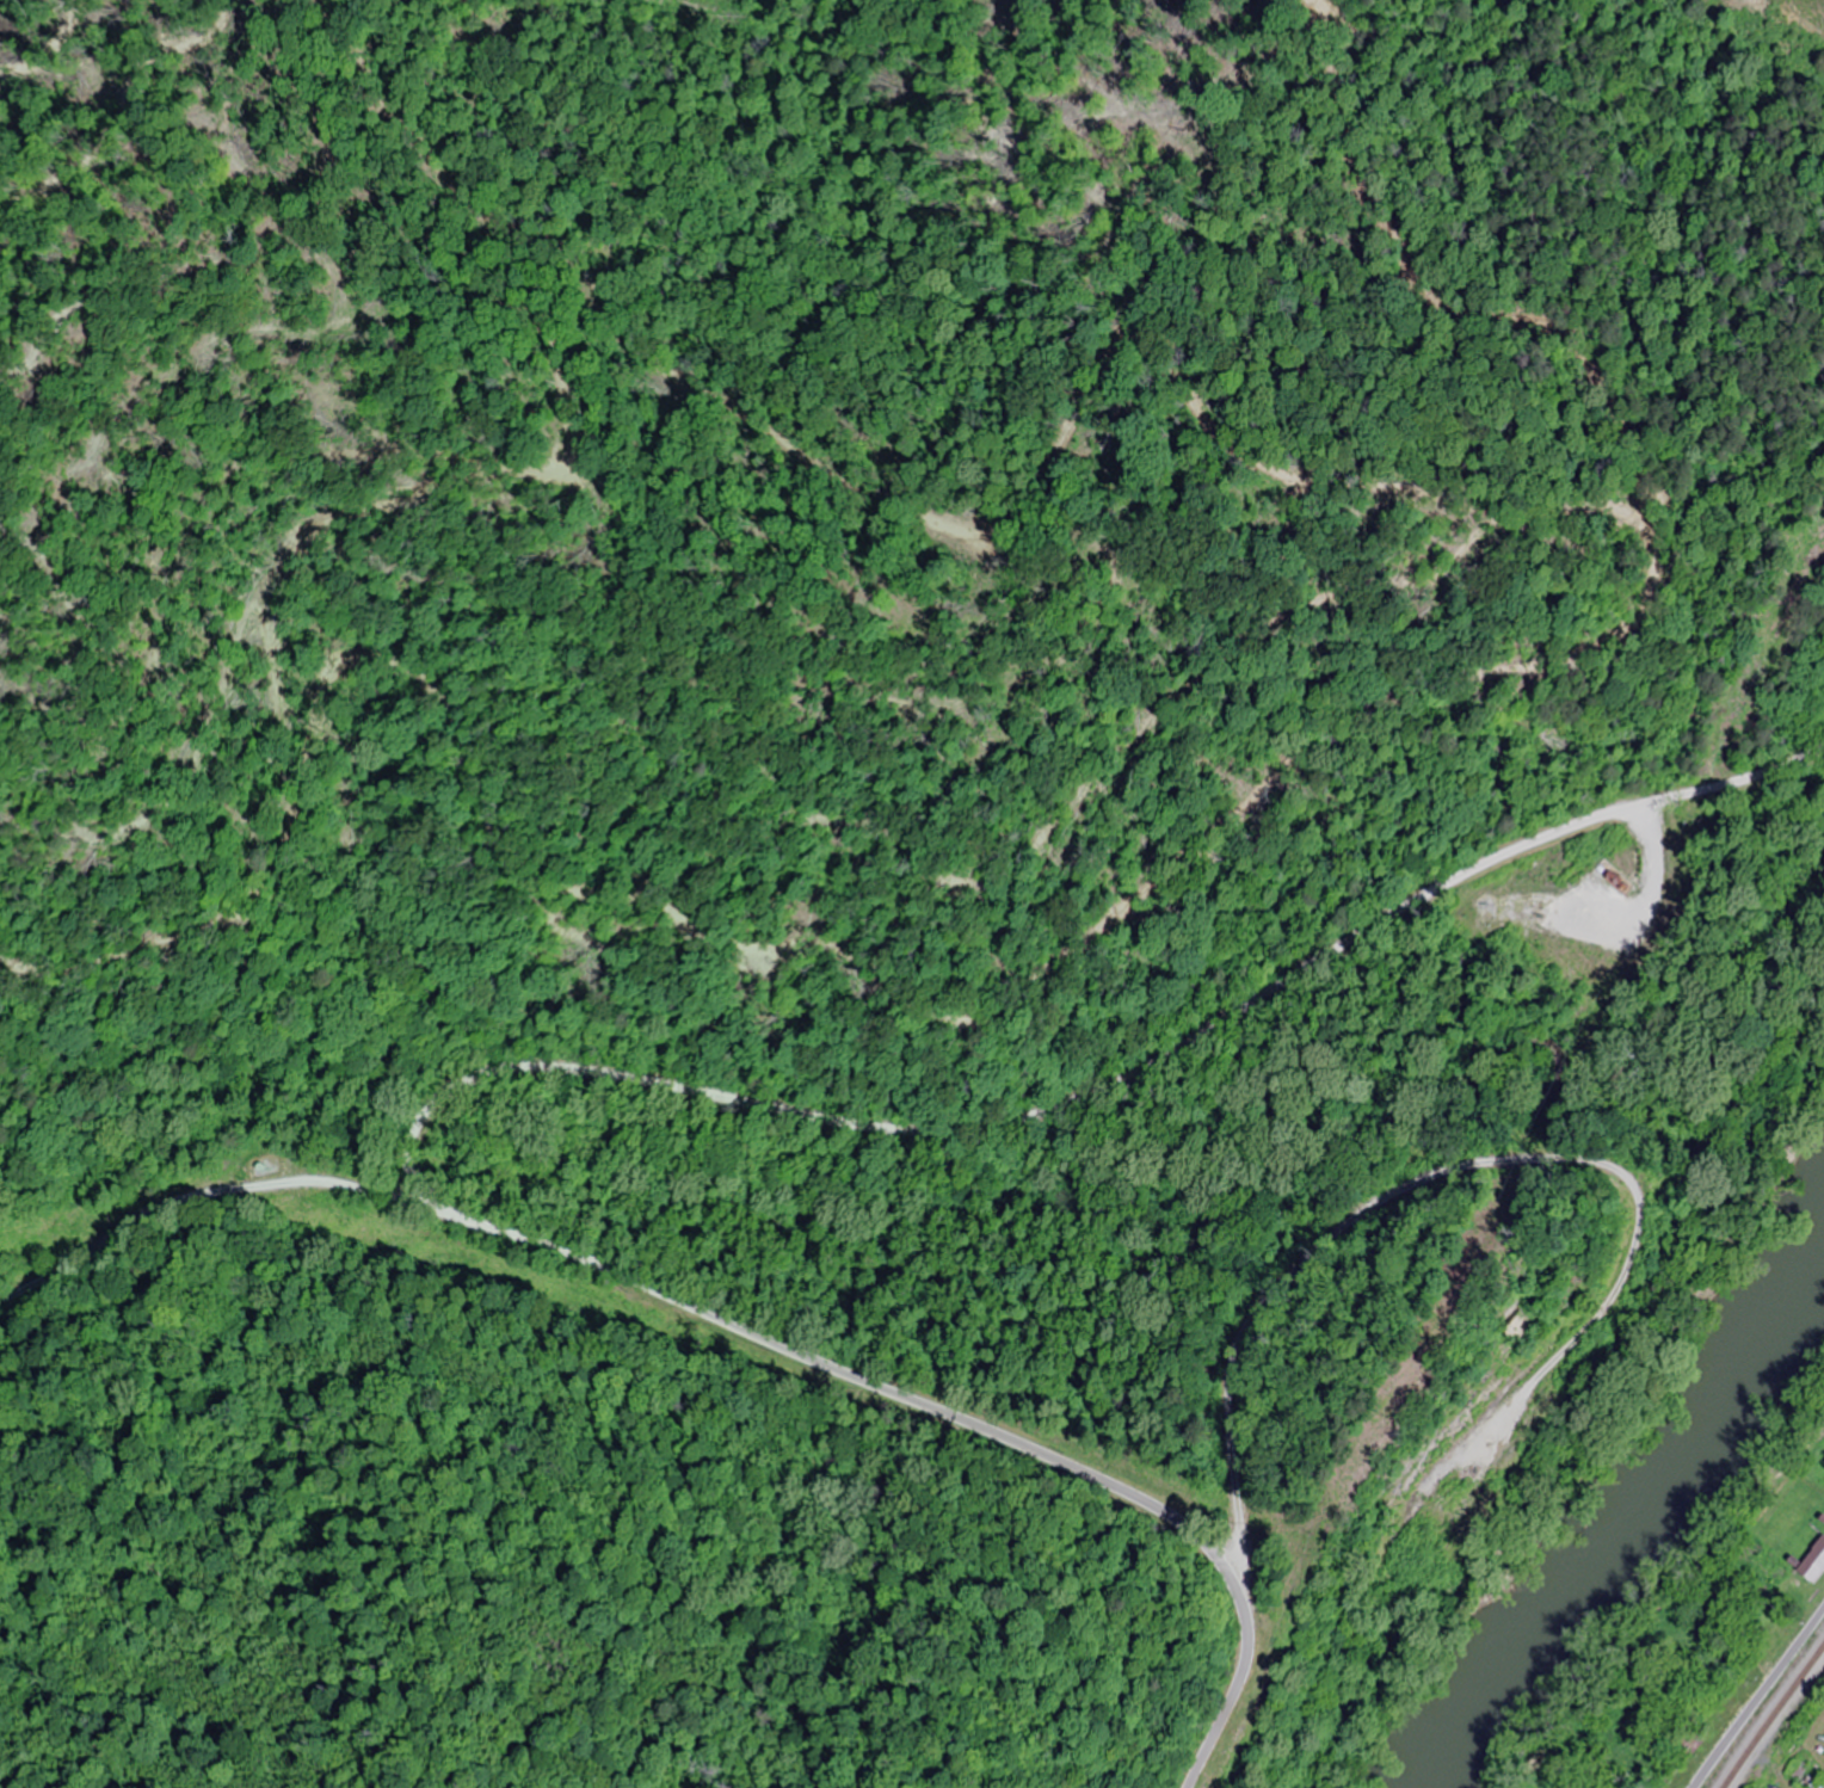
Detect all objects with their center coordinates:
road: (1084, 1095)
road: (230, 1246)
road: (643, 1283)
road: (1135, 1498)
river: (1668, 1535)
building: (1813, 1560)
road: (1758, 1697)
railway: (1774, 1713)
building: (1795, 1770)

